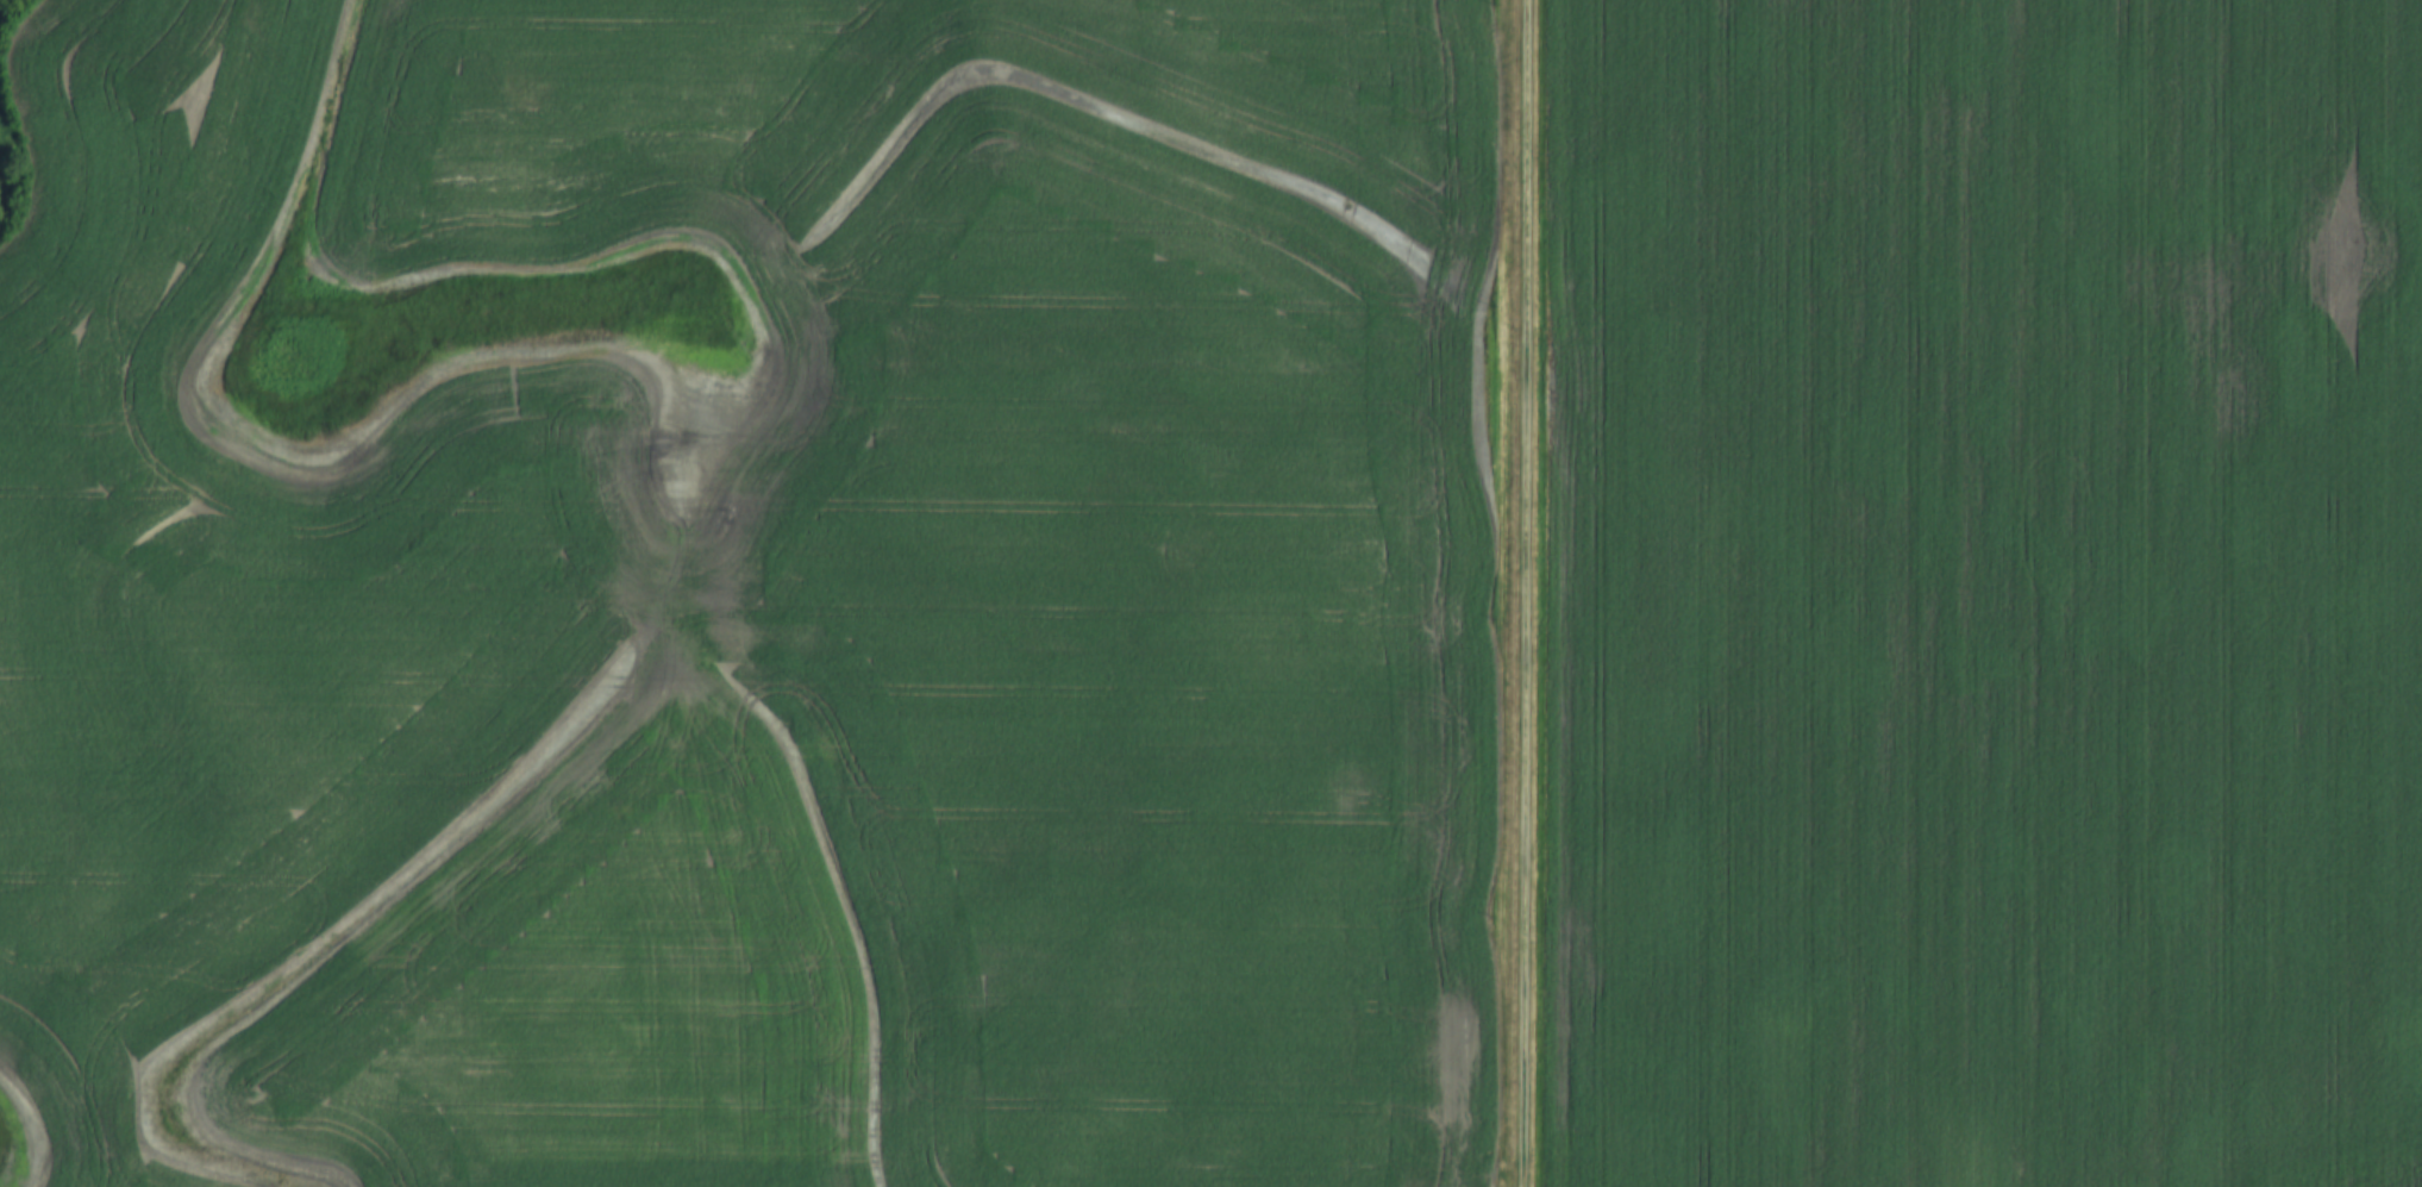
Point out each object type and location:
road: (1529, 593)

